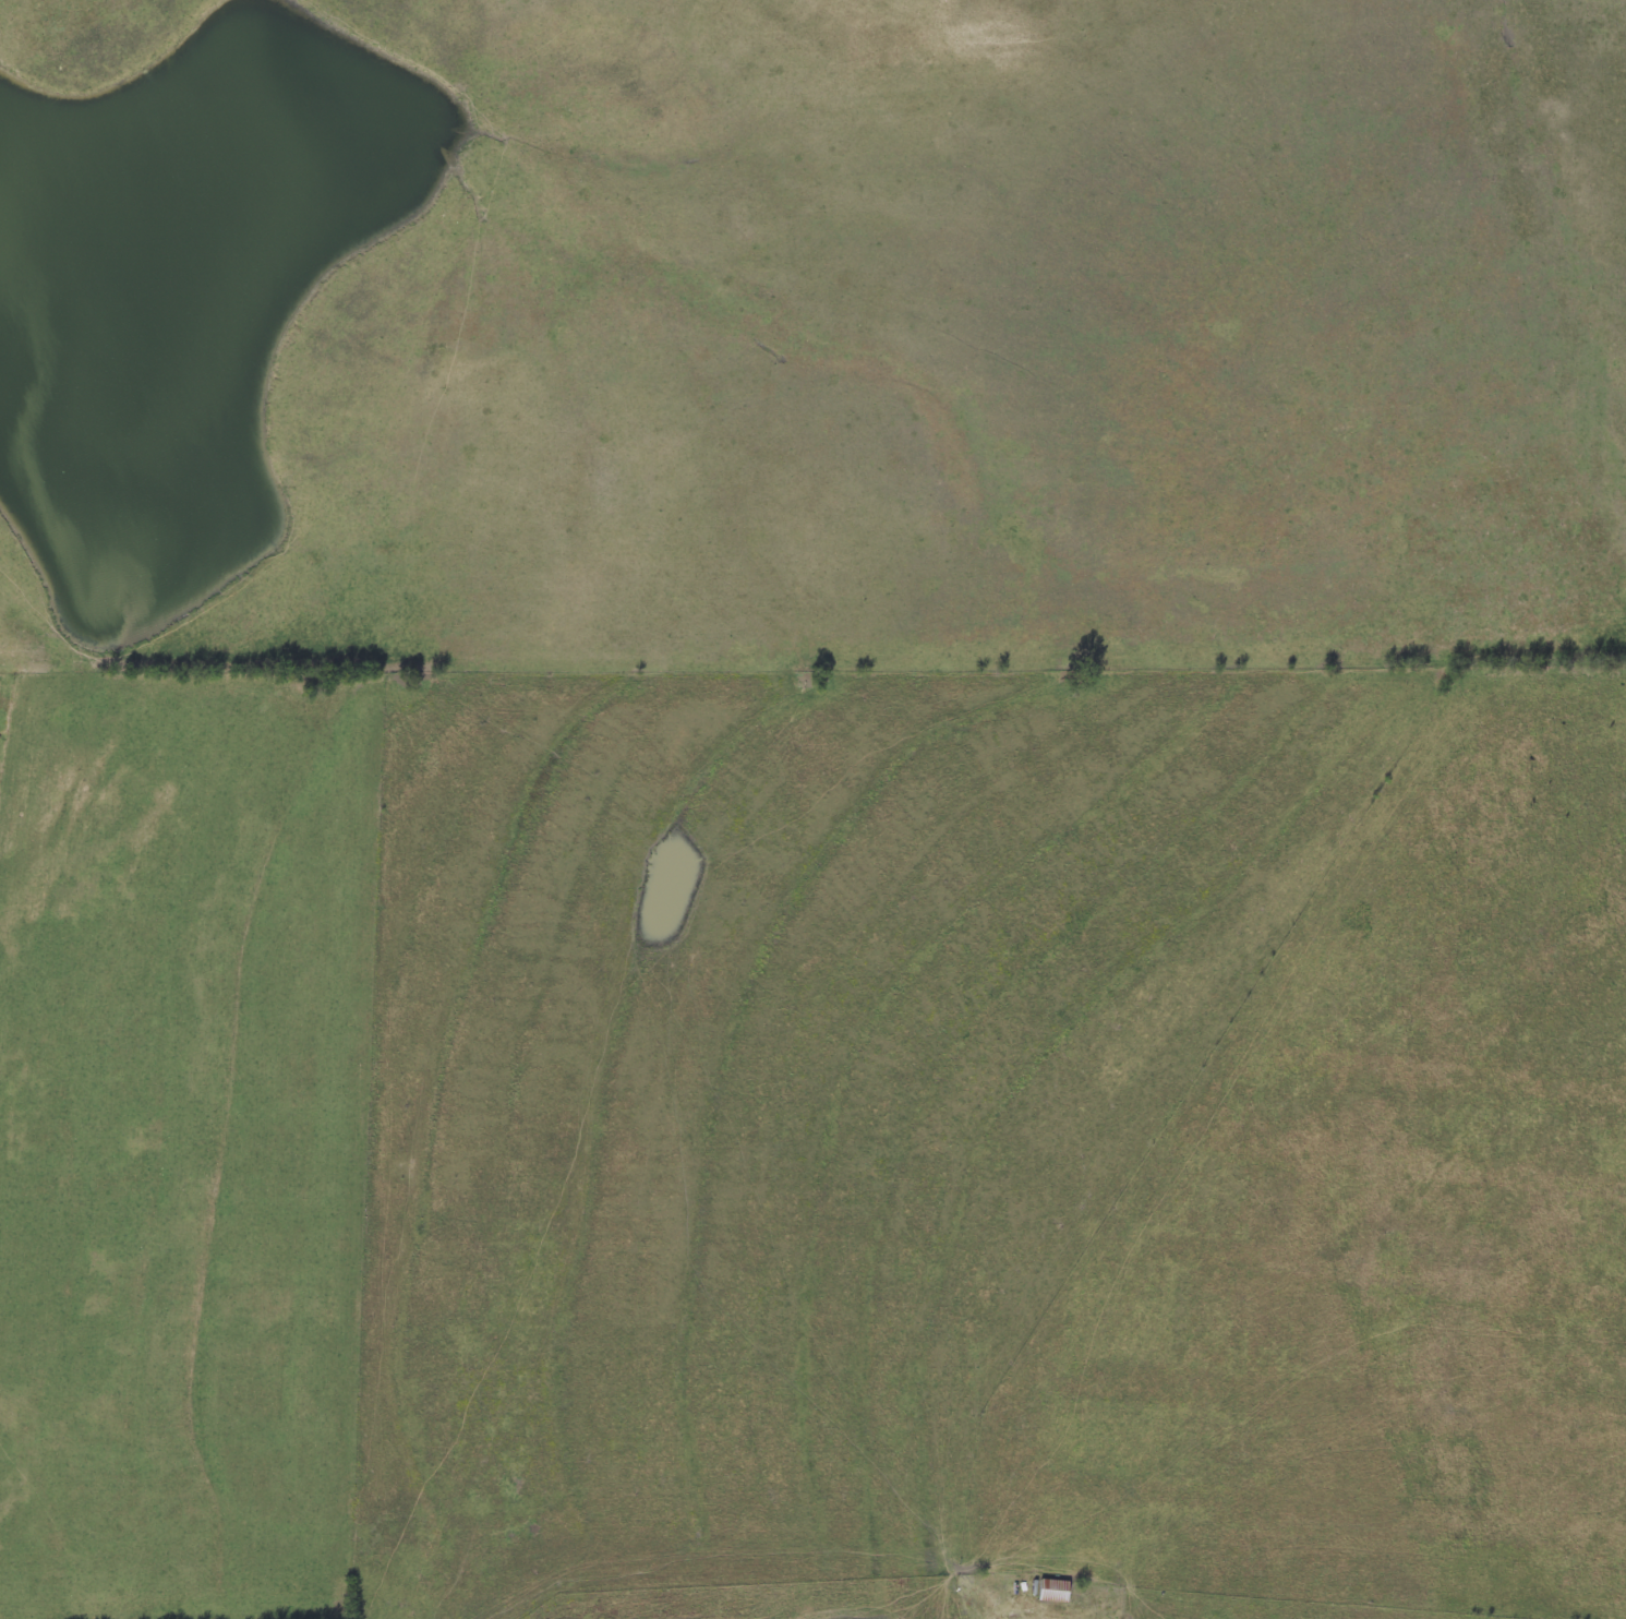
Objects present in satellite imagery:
building: (1051, 1590)
road: (1017, 1610)

